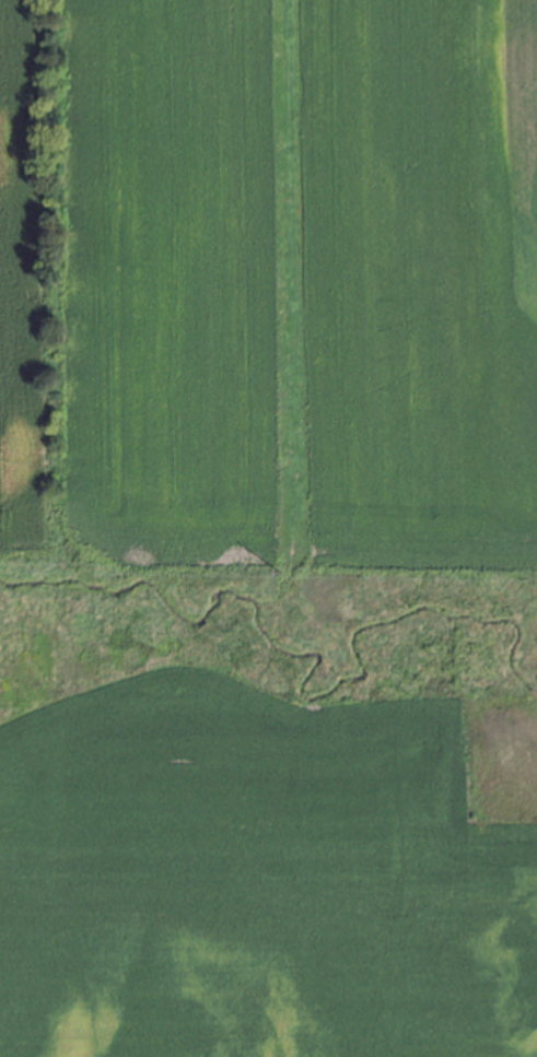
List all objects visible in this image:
power tower: (280, 569)

